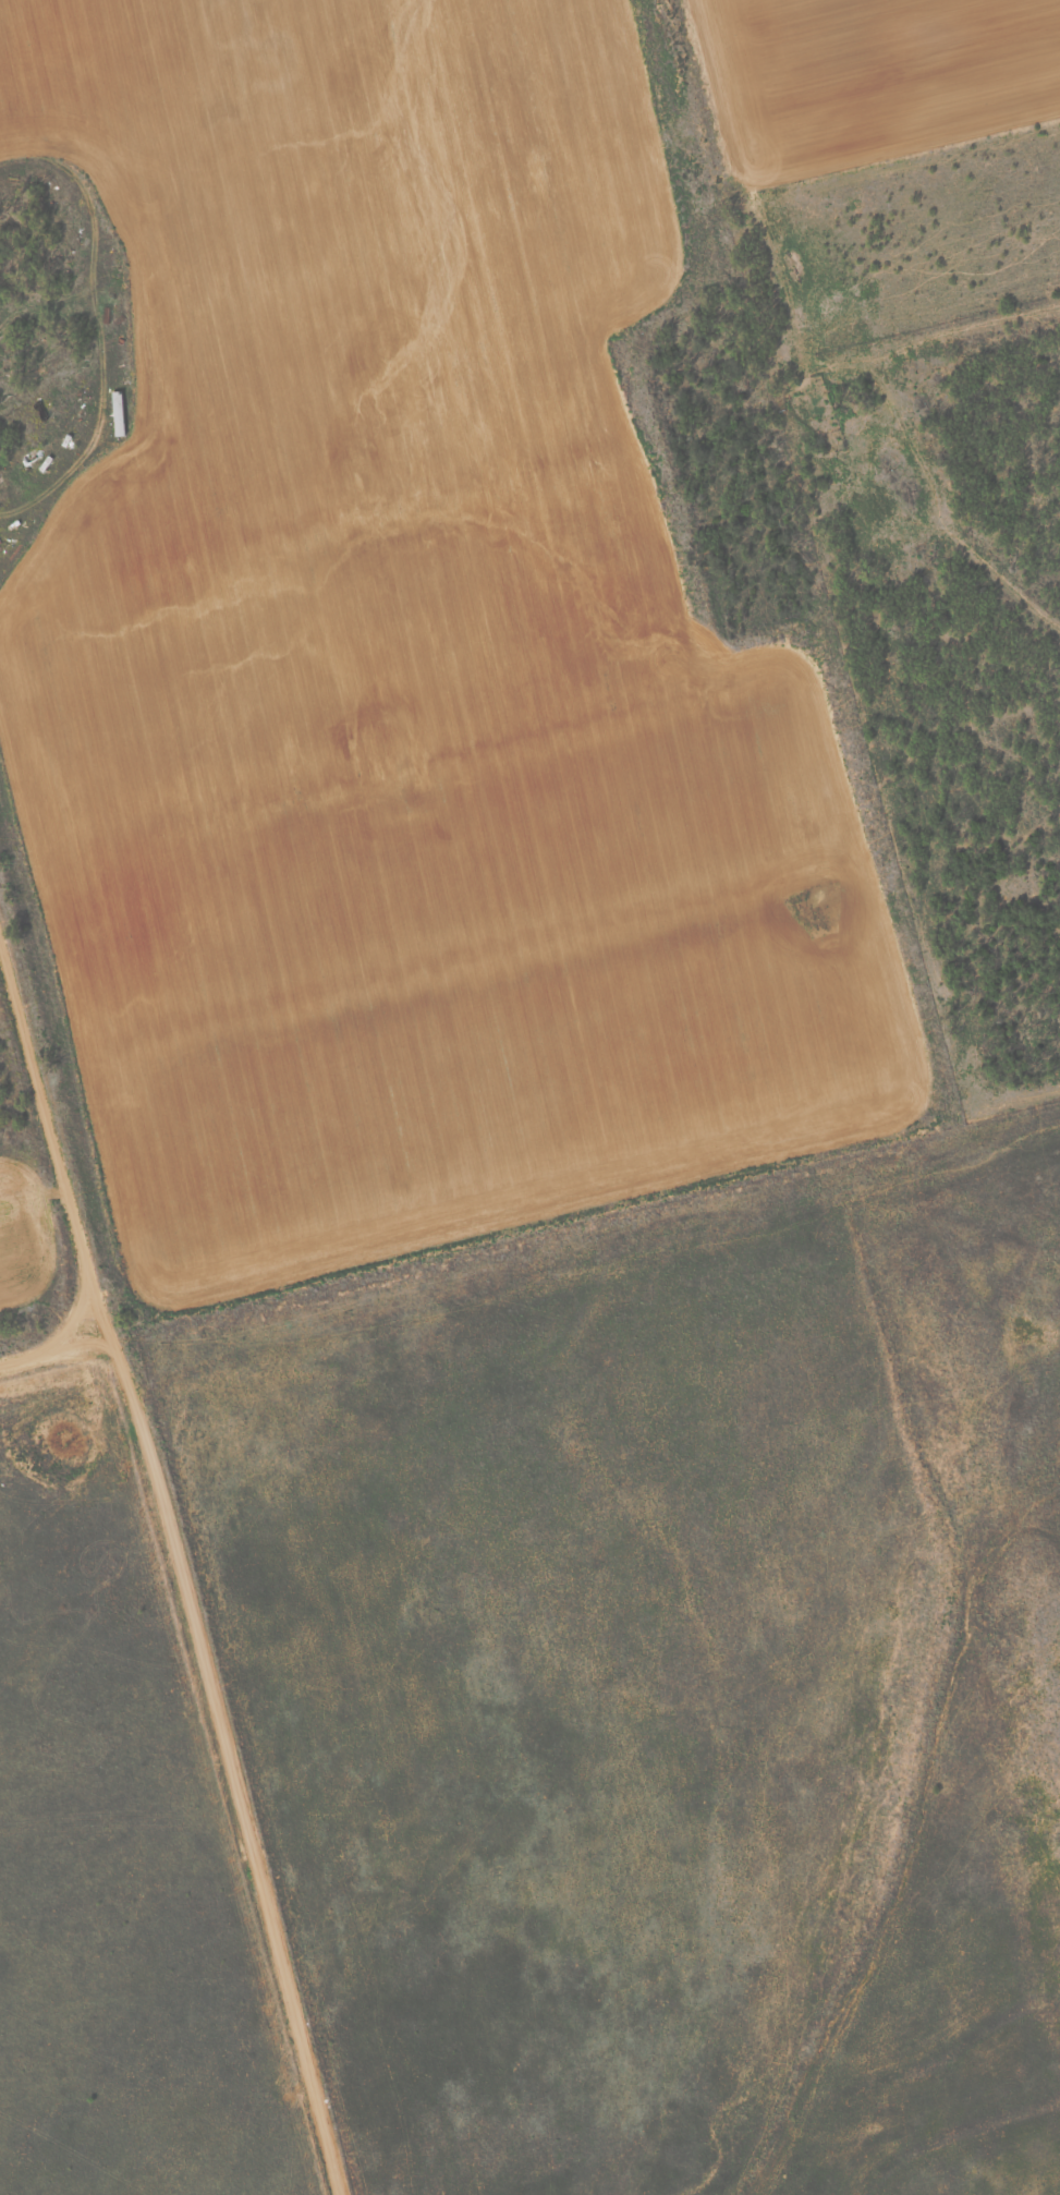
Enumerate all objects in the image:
road: (53, 1347)
road: (181, 1571)

